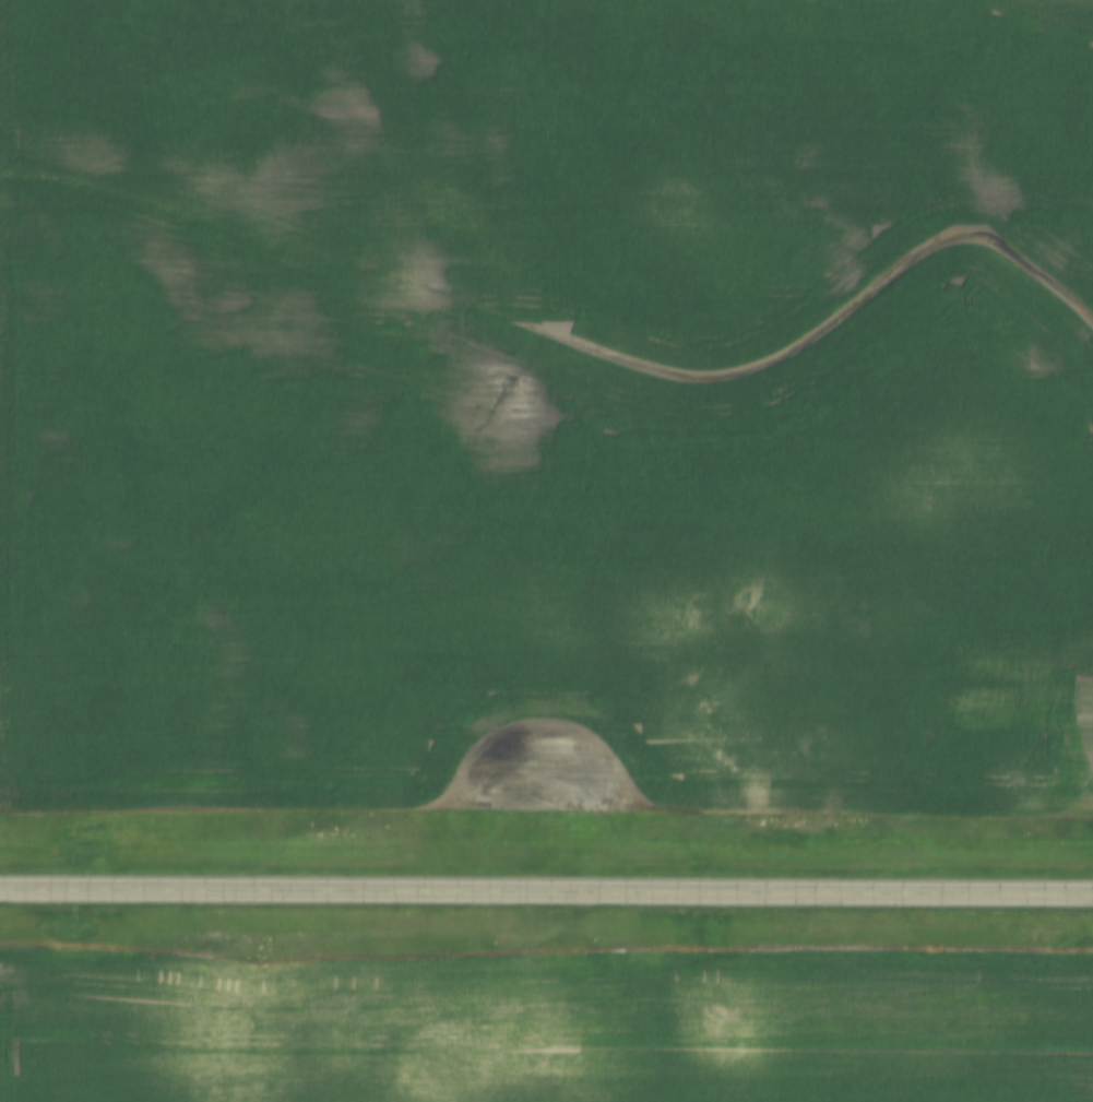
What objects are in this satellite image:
road: (546, 892)

